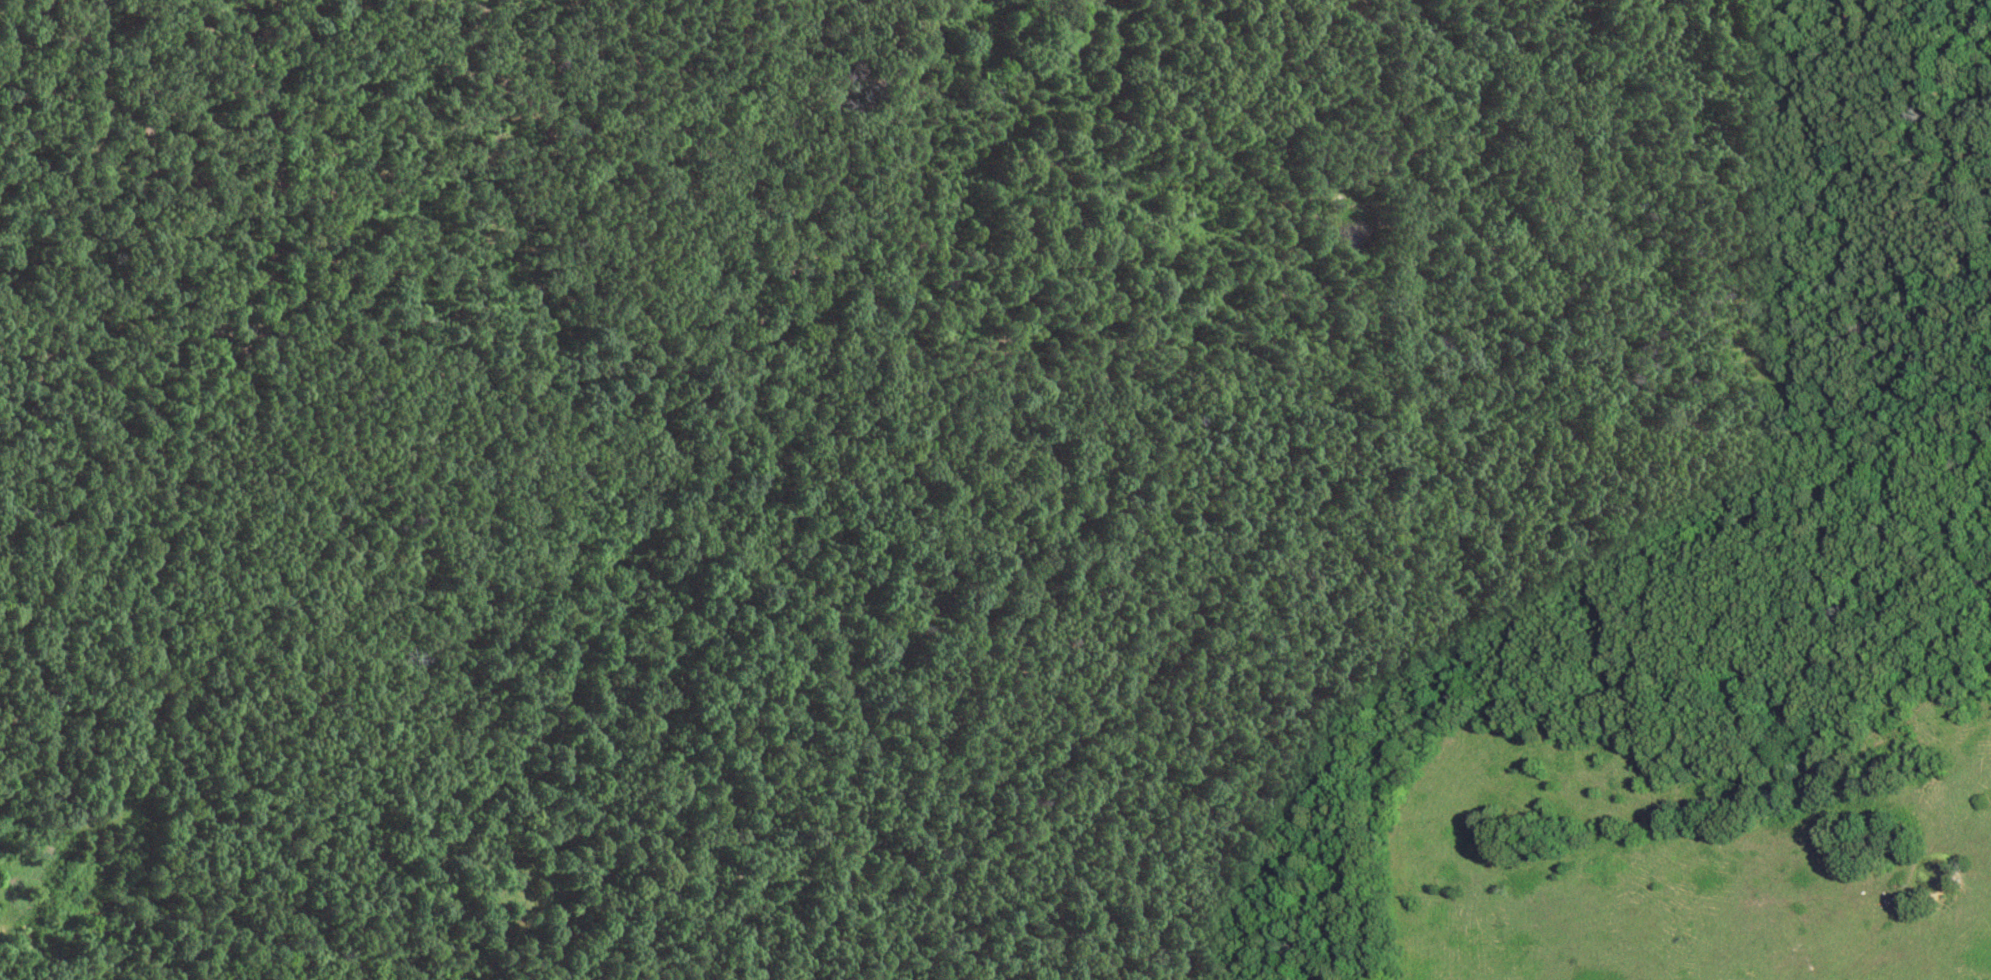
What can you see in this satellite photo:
road: (410, 193)

